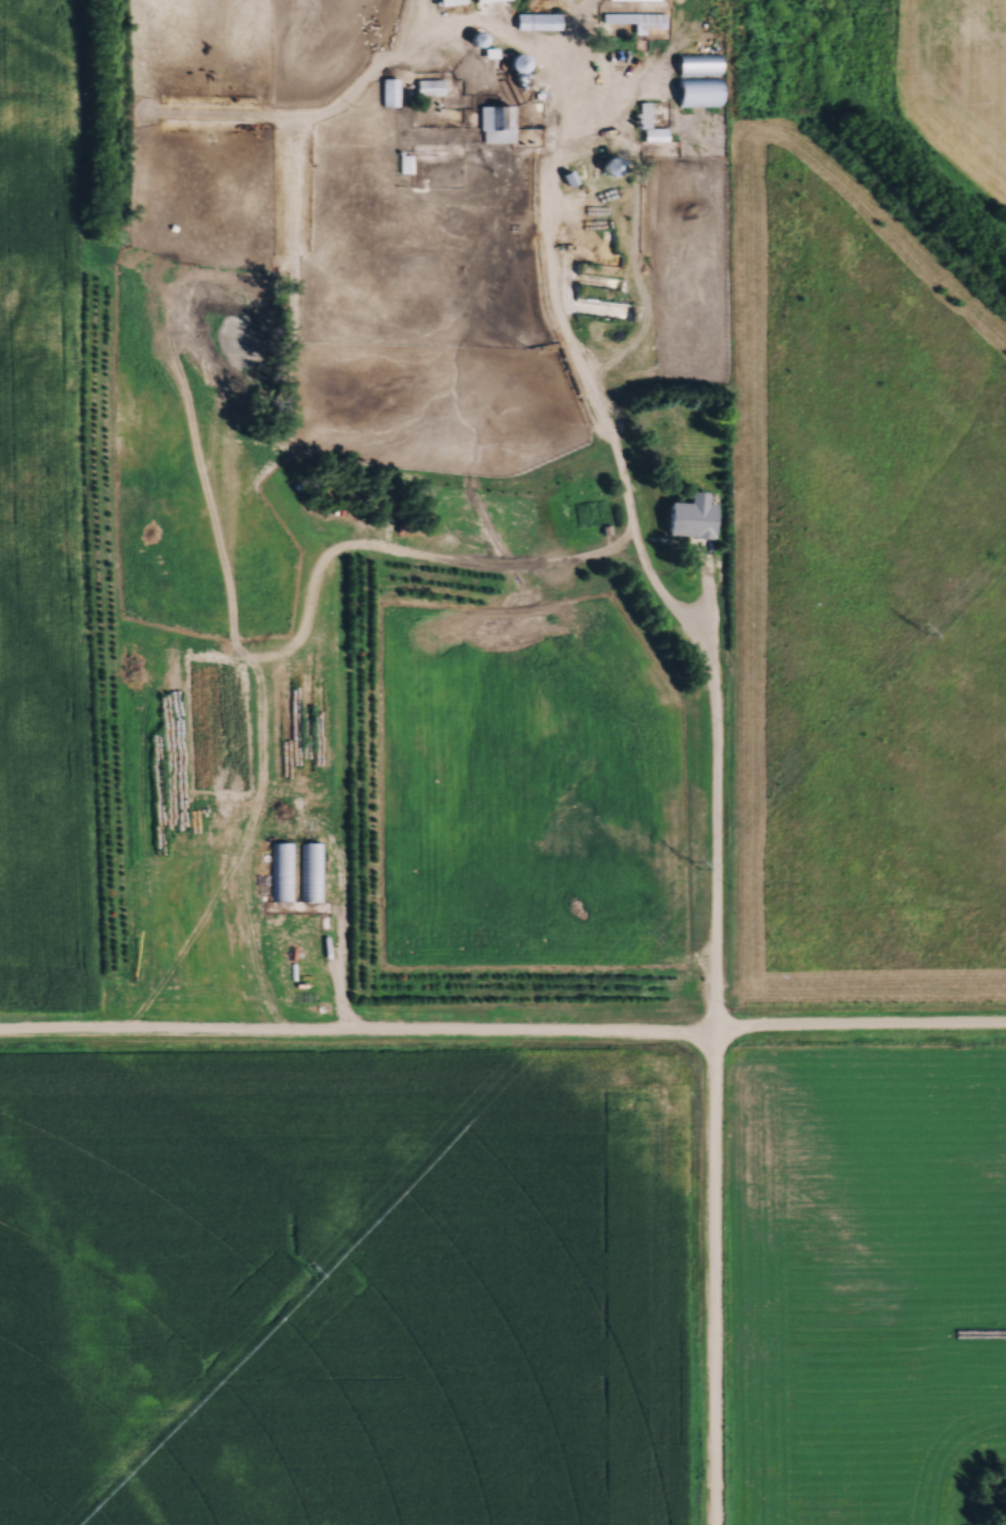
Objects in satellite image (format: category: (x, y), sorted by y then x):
building: (480, 0)
building: (448, 2)
building: (634, 19)
building: (534, 21)
building: (514, 60)
building: (695, 64)
building: (427, 87)
building: (388, 91)
building: (695, 92)
building: (494, 123)
road: (561, 171)
building: (687, 519)
power tower: (921, 629)
power tower: (695, 863)
building: (280, 871)
building: (309, 871)
road: (715, 937)
road: (339, 968)
road: (503, 1034)
power tower: (307, 1267)

